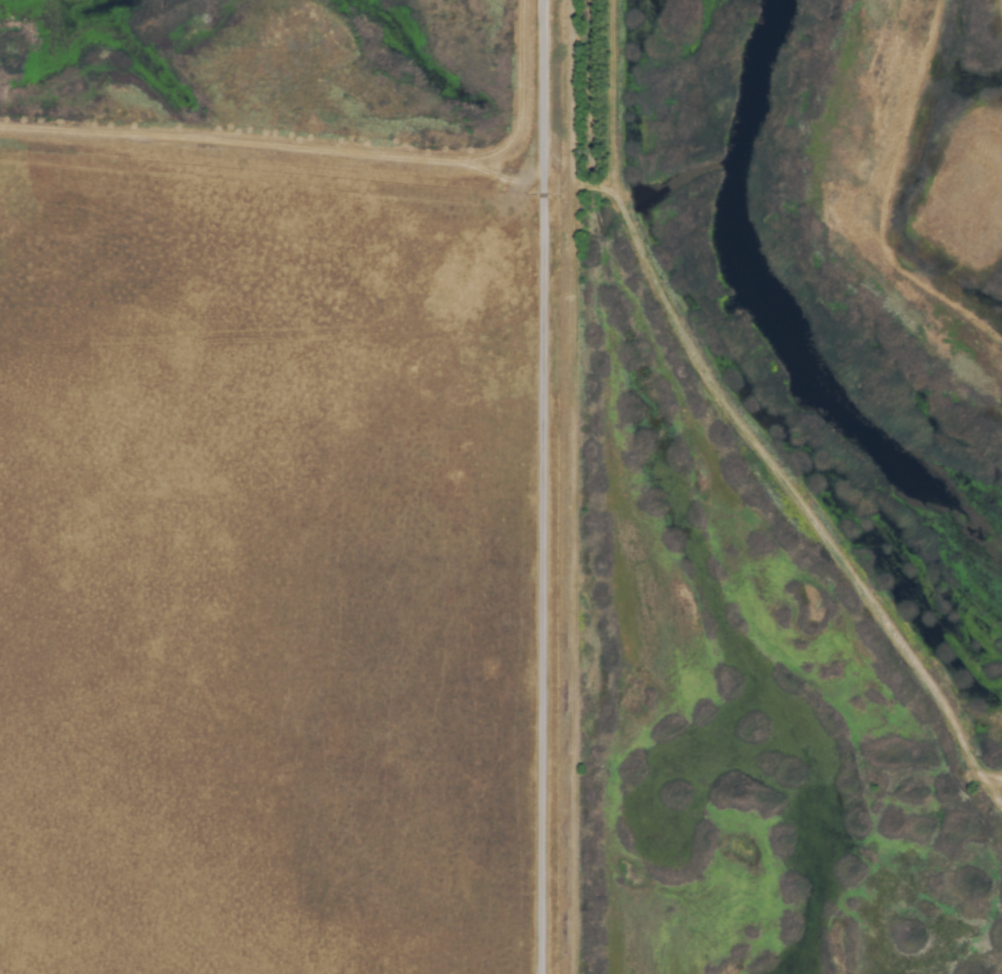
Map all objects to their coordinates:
road: (571, 99)
road: (605, 183)
road: (613, 192)
road: (609, 197)
road: (541, 487)
road: (787, 492)
road: (983, 772)
road: (985, 784)

